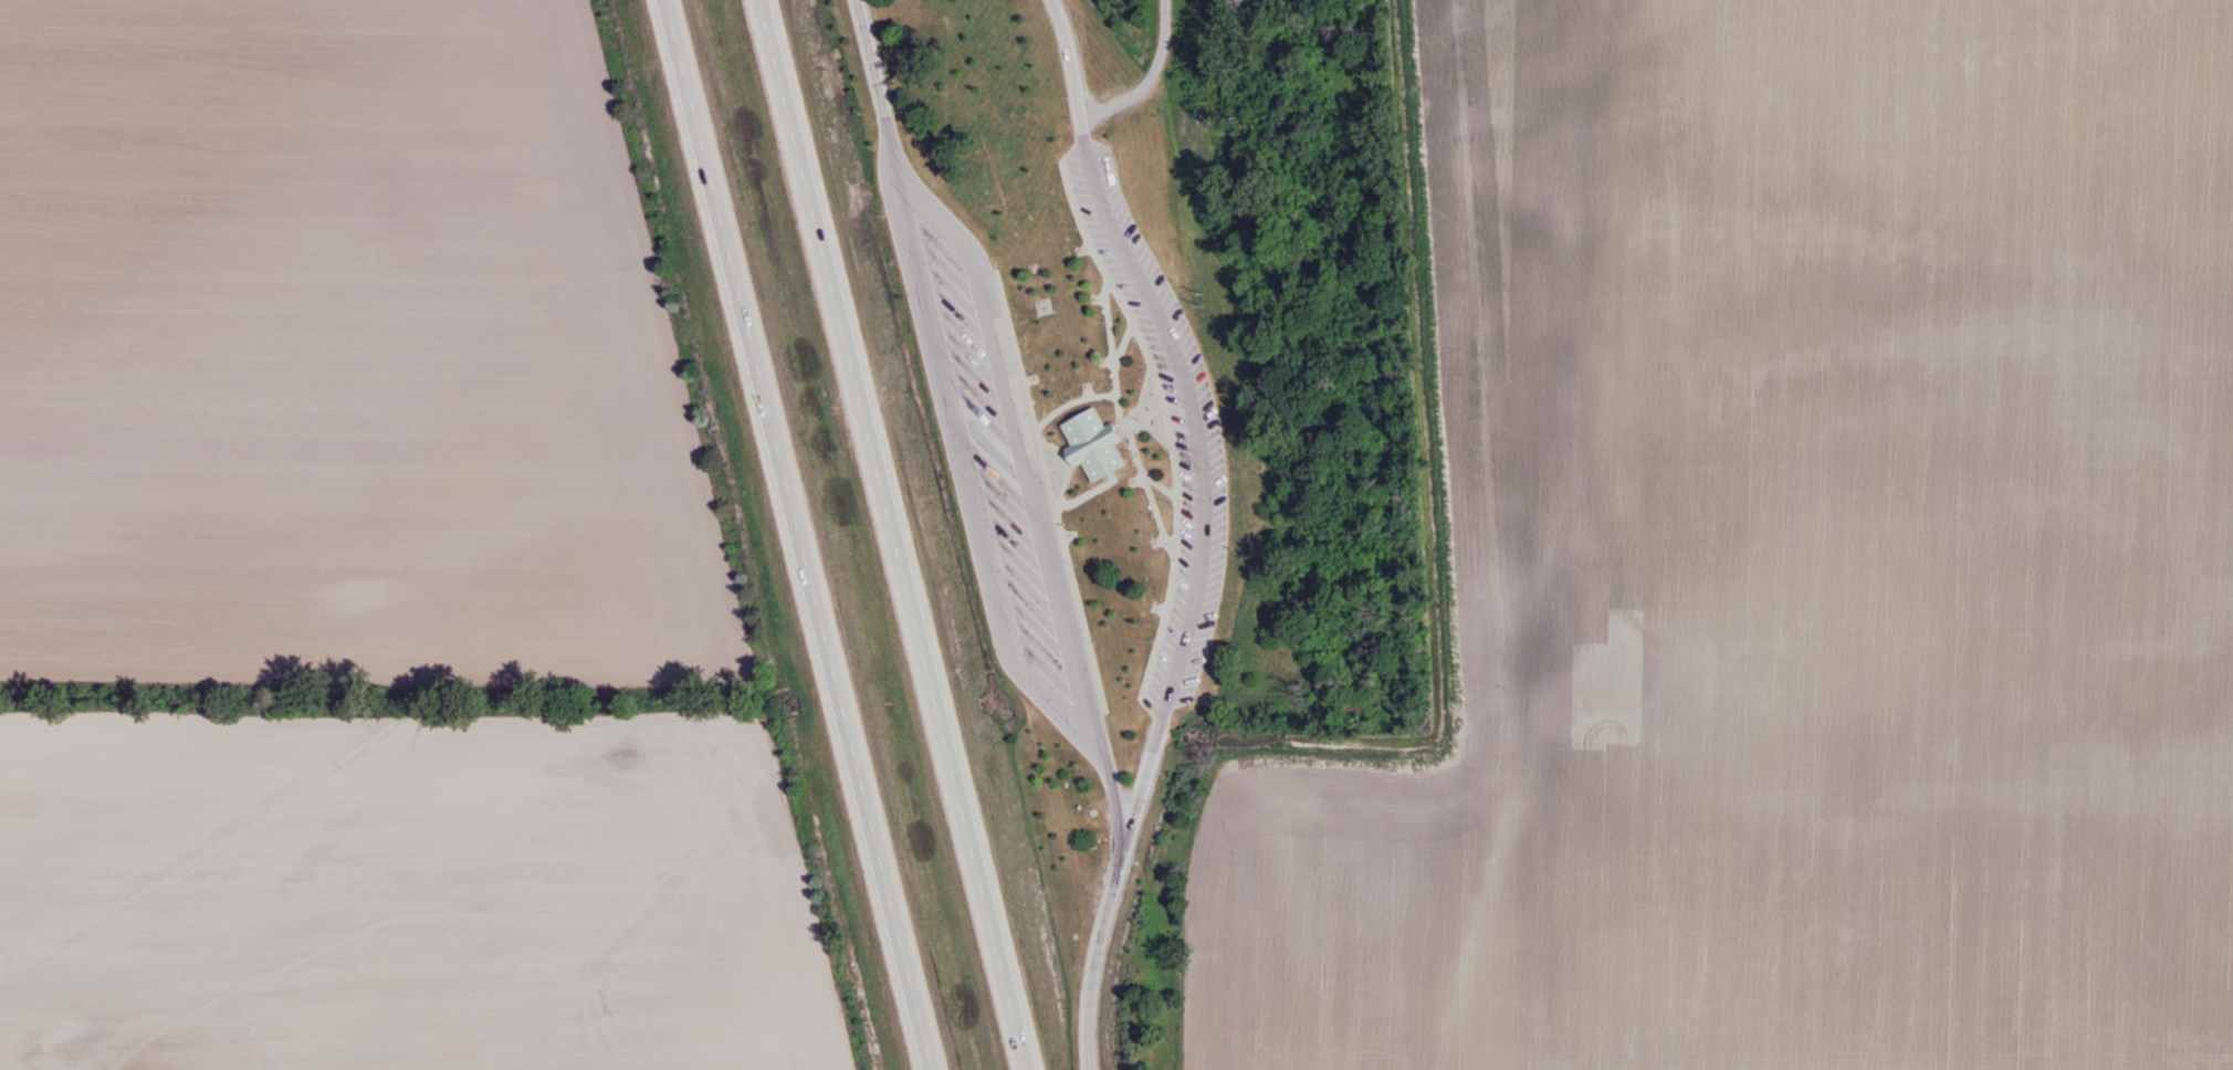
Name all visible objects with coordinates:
road: (1150, 78)
road: (1124, 347)
road: (1113, 353)
road: (1145, 387)
road: (1073, 403)
road: (1136, 410)
road: (1157, 412)
road: (1016, 416)
road: (1196, 421)
road: (1167, 422)
road: (1125, 428)
road: (1161, 436)
parking lot: (1199, 439)
building: (1093, 444)
parking lot: (993, 453)
road: (1066, 457)
road: (966, 475)
road: (1161, 485)
road: (1065, 486)
road: (1052, 491)
road: (1150, 492)
road: (1092, 493)
road: (793, 535)
road: (892, 535)
road: (1094, 963)

